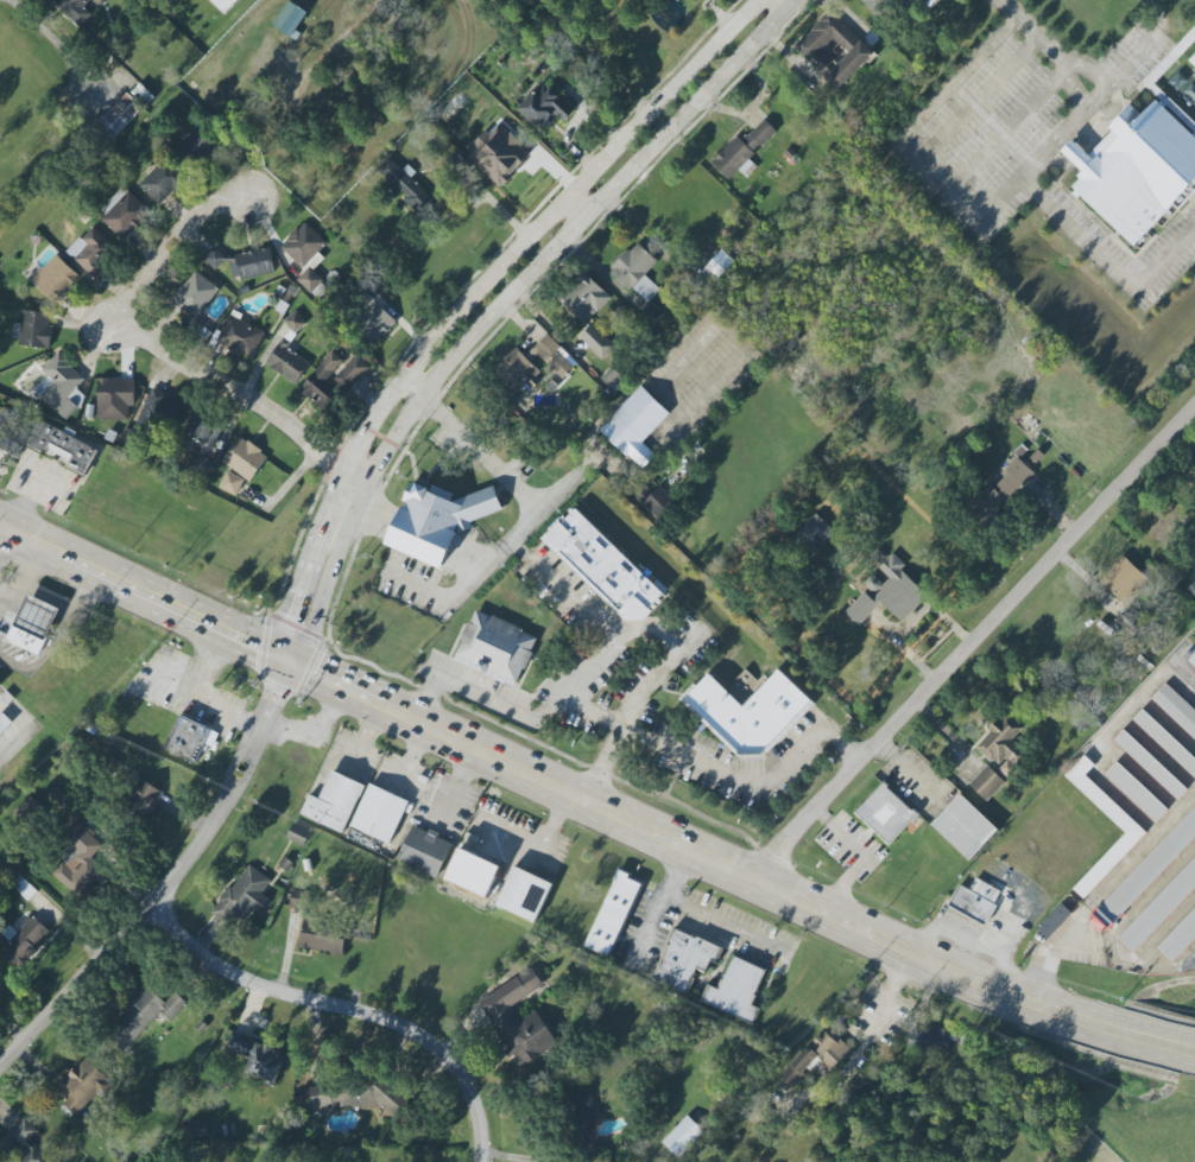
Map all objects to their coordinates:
building: (921, 2)
building: (223, 5)
road: (780, 5)
building: (877, 5)
building: (74, 9)
road: (717, 15)
building: (290, 18)
road: (1153, 30)
road: (1035, 38)
road: (58, 45)
building: (833, 50)
building: (1193, 59)
road: (1106, 89)
building: (145, 95)
road: (1073, 100)
road: (974, 102)
building: (545, 108)
building: (1176, 110)
building: (118, 120)
road: (915, 122)
road: (1000, 134)
building: (196, 145)
building: (744, 150)
road: (1026, 171)
building: (1137, 171)
building: (164, 182)
building: (407, 186)
road: (492, 198)
road: (574, 210)
building: (124, 212)
building: (91, 250)
building: (214, 258)
road: (1106, 262)
building: (251, 263)
building: (714, 269)
building: (636, 272)
building: (55, 278)
building: (195, 294)
road: (472, 296)
road: (504, 303)
building: (587, 311)
building: (649, 315)
building: (295, 322)
building: (375, 322)
building: (32, 329)
building: (240, 335)
road: (171, 354)
building: (287, 362)
building: (517, 373)
building: (331, 380)
building: (61, 386)
road: (413, 387)
building: (112, 399)
road: (153, 404)
building: (158, 411)
building: (89, 412)
building: (634, 425)
building: (200, 432)
building: (13, 433)
building: (63, 446)
road: (482, 455)
building: (245, 458)
building: (201, 465)
building: (232, 484)
building: (656, 501)
road: (25, 503)
building: (1193, 508)
building: (437, 520)
building: (811, 533)
road: (10, 548)
building: (603, 567)
road: (25, 577)
road: (476, 577)
building: (1124, 579)
building: (1193, 589)
road: (5, 591)
road: (563, 591)
building: (887, 592)
road: (68, 605)
traffic signals: (287, 617)
building: (1130, 623)
building: (33, 624)
road: (972, 643)
traffic signals: (259, 645)
building: (494, 648)
building: (1191, 661)
traffic signals: (315, 672)
building: (0, 682)
traffic signals: (278, 694)
road: (201, 696)
road: (425, 698)
building: (7, 699)
road: (557, 699)
road: (630, 704)
building: (1176, 709)
building: (748, 712)
building: (5, 724)
building: (185, 741)
building: (1165, 742)
building: (1001, 743)
road: (577, 763)
building: (1149, 764)
road: (720, 774)
road: (670, 775)
road: (550, 782)
building: (986, 782)
building: (1134, 792)
building: (145, 800)
building: (333, 804)
building: (1105, 804)
building: (27, 809)
building: (379, 814)
building: (886, 814)
building: (965, 828)
building: (298, 836)
building: (77, 851)
building: (424, 851)
building: (286, 865)
building: (1147, 869)
road: (173, 883)
building: (244, 895)
building: (524, 895)
road: (658, 902)
building: (1161, 909)
building: (613, 914)
building: (1054, 920)
road: (722, 921)
building: (980, 925)
building: (316, 926)
building: (1180, 939)
building: (21, 940)
building: (685, 960)
building: (736, 989)
road: (889, 993)
road: (350, 1008)
building: (143, 1016)
building: (518, 1020)
building: (932, 1040)
road: (1150, 1040)
building: (257, 1056)
building: (815, 1056)
building: (84, 1086)
building: (356, 1096)
building: (581, 1115)
building: (197, 1129)
building: (682, 1136)
building: (27, 1143)

